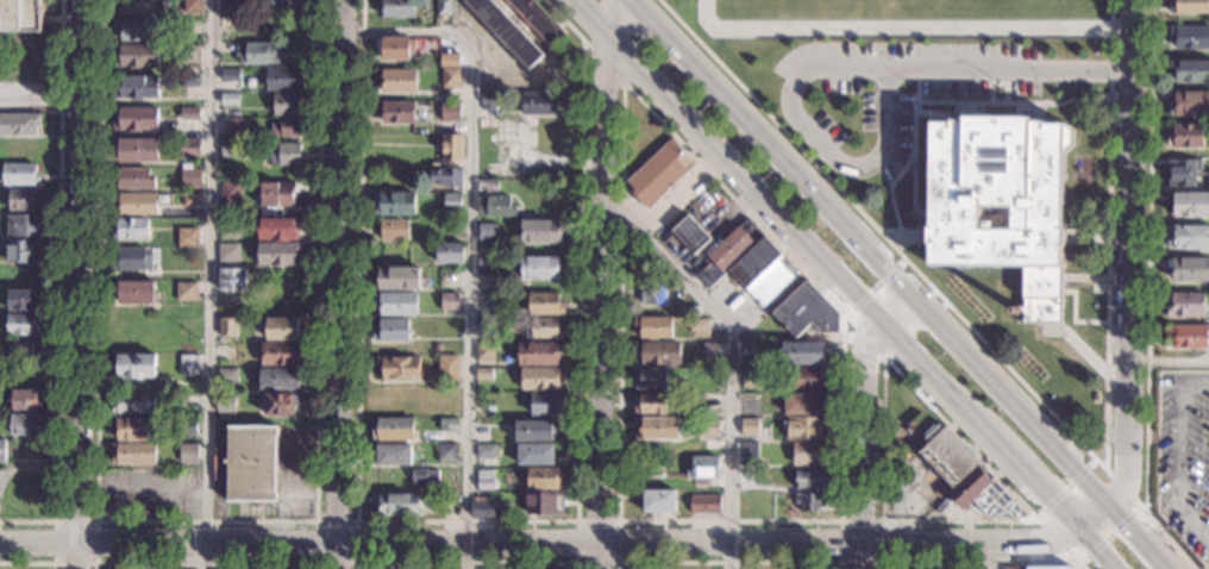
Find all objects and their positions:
building: (192, 6)
building: (1189, 6)
building: (134, 7)
building: (443, 7)
building: (396, 8)
building: (20, 15)
building: (538, 19)
road: (908, 25)
building: (134, 30)
building: (505, 31)
building: (1190, 37)
building: (394, 49)
building: (190, 54)
building: (259, 54)
building: (134, 56)
road: (602, 61)
building: (451, 62)
road: (842, 67)
building: (1190, 71)
building: (230, 75)
building: (450, 77)
building: (284, 79)
building: (396, 80)
building: (189, 81)
building: (134, 87)
building: (228, 99)
building: (488, 101)
road: (942, 102)
building: (288, 104)
building: (540, 104)
building: (1189, 104)
road: (42, 105)
building: (395, 112)
building: (449, 112)
building: (189, 114)
building: (134, 119)
building: (19, 124)
building: (231, 126)
building: (287, 127)
building: (1186, 136)
building: (450, 148)
building: (189, 149)
building: (228, 149)
building: (19, 150)
building: (136, 150)
building: (286, 154)
building: (659, 173)
building: (1183, 173)
building: (19, 175)
building: (189, 177)
building: (132, 179)
building: (446, 179)
building: (487, 186)
building: (230, 190)
road: (913, 192)
building: (275, 194)
building: (190, 199)
building: (23, 200)
building: (451, 201)
building: (1001, 202)
building: (393, 204)
building: (133, 205)
building: (1190, 205)
building: (495, 206)
road: (779, 223)
building: (23, 225)
building: (130, 229)
building: (228, 229)
building: (278, 229)
building: (394, 230)
building: (540, 231)
road: (896, 231)
building: (488, 232)
building: (690, 235)
building: (187, 237)
building: (1188, 237)
road: (471, 243)
road: (875, 250)
building: (23, 251)
building: (227, 252)
building: (447, 252)
building: (727, 252)
building: (278, 254)
road: (1127, 256)
building: (131, 260)
road: (846, 264)
building: (487, 265)
building: (541, 267)
building: (1189, 269)
road: (603, 270)
building: (763, 271)
road: (82, 273)
building: (396, 279)
building: (231, 280)
road: (342, 283)
road: (209, 284)
road: (57, 287)
building: (132, 292)
building: (184, 292)
road: (1147, 292)
building: (652, 293)
building: (227, 299)
building: (20, 300)
building: (449, 301)
building: (284, 304)
building: (396, 304)
building: (545, 304)
building: (1185, 305)
building: (688, 311)
building: (806, 312)
building: (24, 325)
building: (227, 327)
building: (543, 327)
building: (653, 327)
building: (699, 327)
building: (283, 329)
building: (391, 330)
building: (1186, 336)
building: (484, 337)
road: (865, 337)
building: (438, 348)
building: (21, 349)
building: (1057, 349)
building: (710, 351)
building: (227, 352)
building: (484, 352)
building: (803, 352)
building: (281, 354)
building: (540, 354)
building: (658, 354)
road: (619, 355)
road: (732, 358)
building: (188, 364)
building: (133, 365)
building: (447, 367)
building: (399, 368)
building: (484, 374)
building: (713, 374)
building: (227, 376)
building: (750, 377)
building: (282, 379)
building: (540, 379)
building: (650, 379)
building: (808, 379)
building: (1095, 398)
building: (188, 400)
building: (25, 401)
building: (710, 401)
building: (225, 402)
road: (1042, 402)
building: (133, 404)
building: (280, 404)
building: (547, 404)
building: (650, 404)
building: (803, 405)
road: (864, 412)
building: (21, 424)
building: (449, 425)
building: (187, 427)
building: (750, 427)
building: (656, 429)
building: (709, 429)
building: (806, 429)
building: (133, 430)
building: (391, 430)
building: (537, 431)
road: (959, 434)
building: (187, 450)
building: (2, 451)
building: (486, 451)
road: (1179, 451)
building: (446, 452)
building: (133, 454)
building: (393, 454)
building: (535, 455)
building: (748, 455)
building: (809, 455)
parking lot: (1183, 455)
building: (948, 457)
building: (248, 464)
building: (703, 467)
building: (422, 477)
building: (545, 479)
building: (809, 479)
building: (486, 480)
road: (1032, 488)
road: (1125, 488)
road: (1070, 494)
building: (985, 495)
building: (658, 501)
building: (544, 502)
building: (809, 502)
building: (706, 504)
building: (394, 505)
building: (482, 507)
road: (474, 520)
road: (882, 520)
road: (1092, 520)
road: (95, 521)
road: (205, 521)
road: (315, 521)
road: (1136, 538)
road: (1146, 539)
road: (1055, 540)
road: (838, 542)
road: (39, 544)
road: (339, 544)
road: (1091, 551)
road: (992, 555)
road: (80, 557)
road: (600, 557)
road: (616, 561)
road: (30, 562)
road: (466, 562)
road: (727, 562)
road: (981, 562)
road: (203, 563)
building: (124, 568)
building: (274, 568)
building: (555, 568)
building: (794, 568)
building: (914, 568)
building: (1011, 568)
building: (1048, 568)

